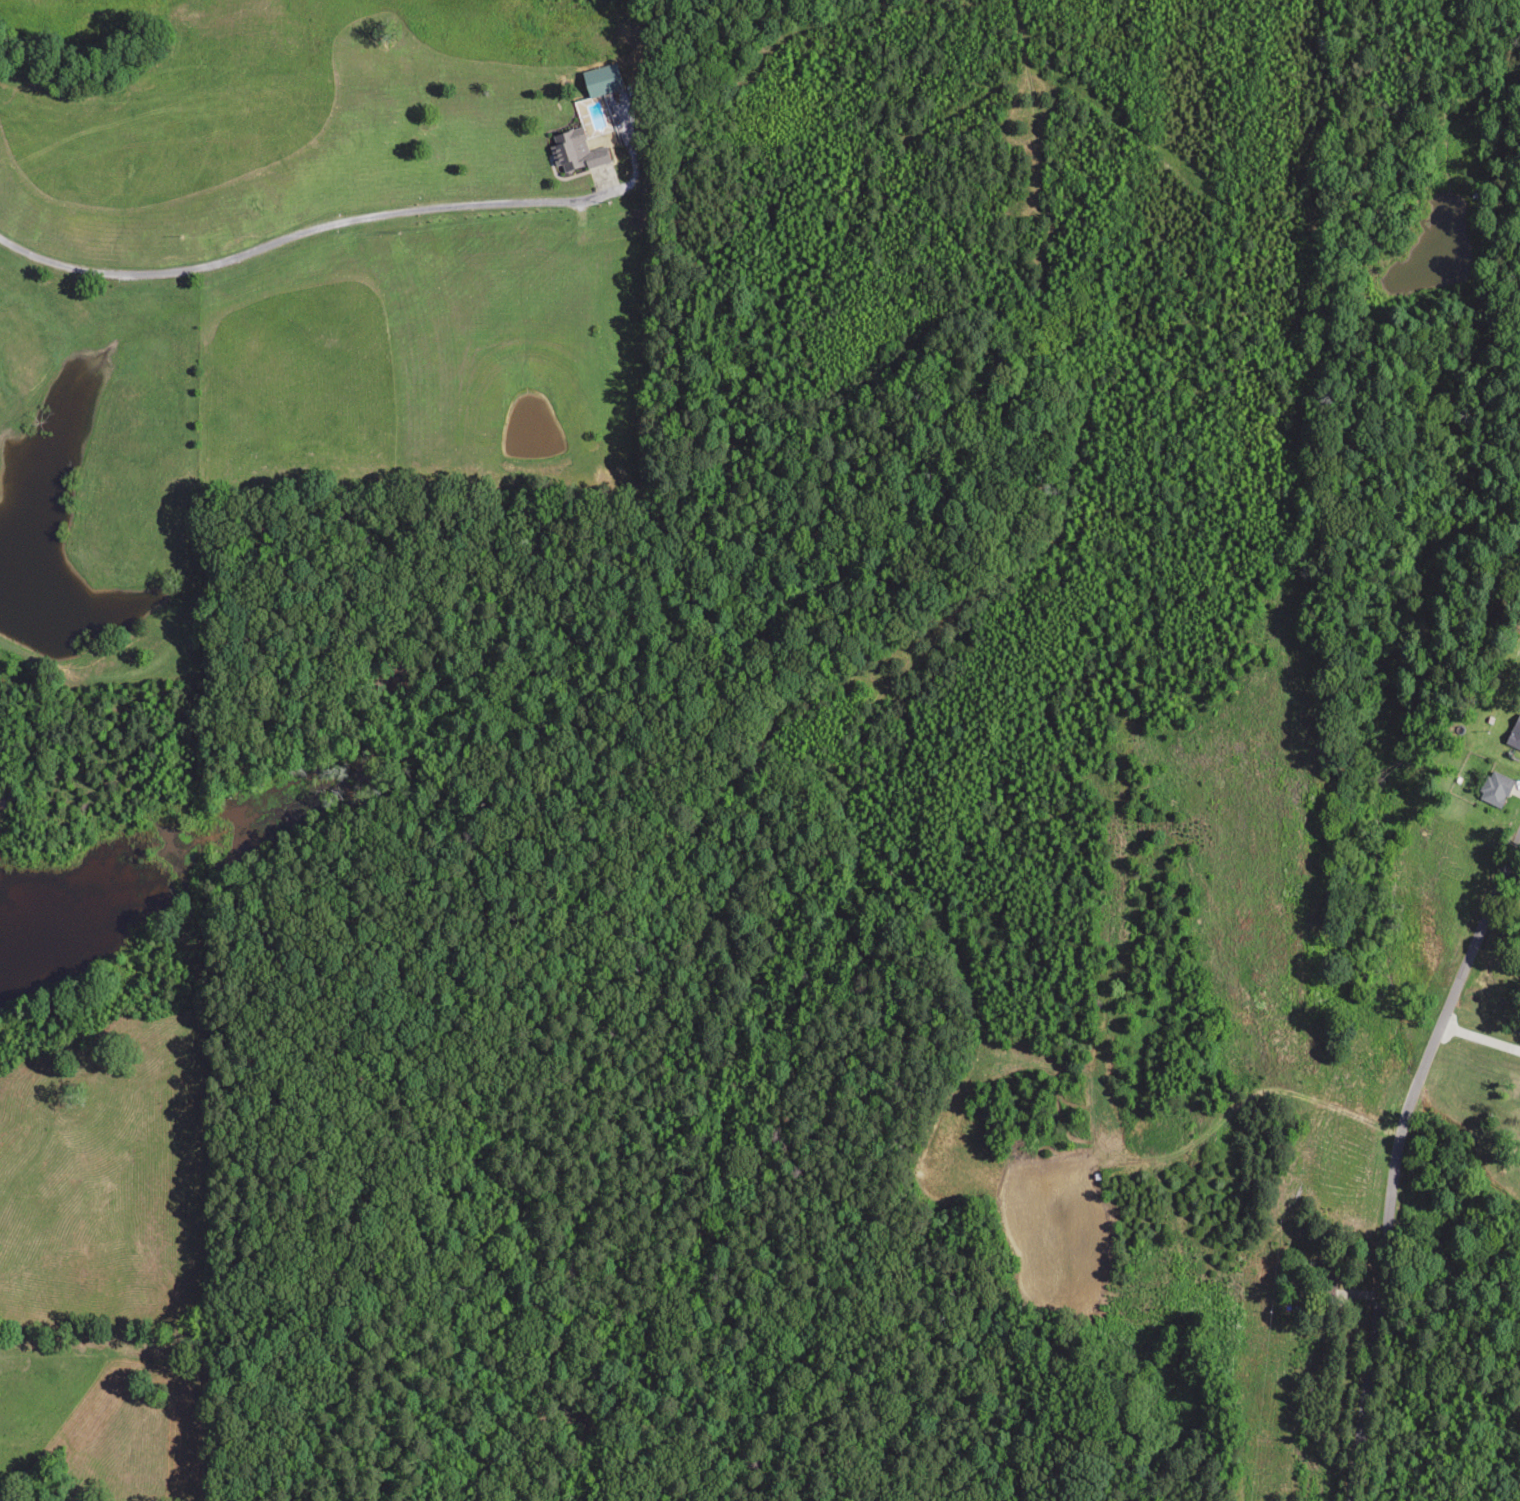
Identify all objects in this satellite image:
building: (599, 80)
building: (585, 145)
building: (1513, 734)
building: (1493, 789)
road: (1404, 1160)

